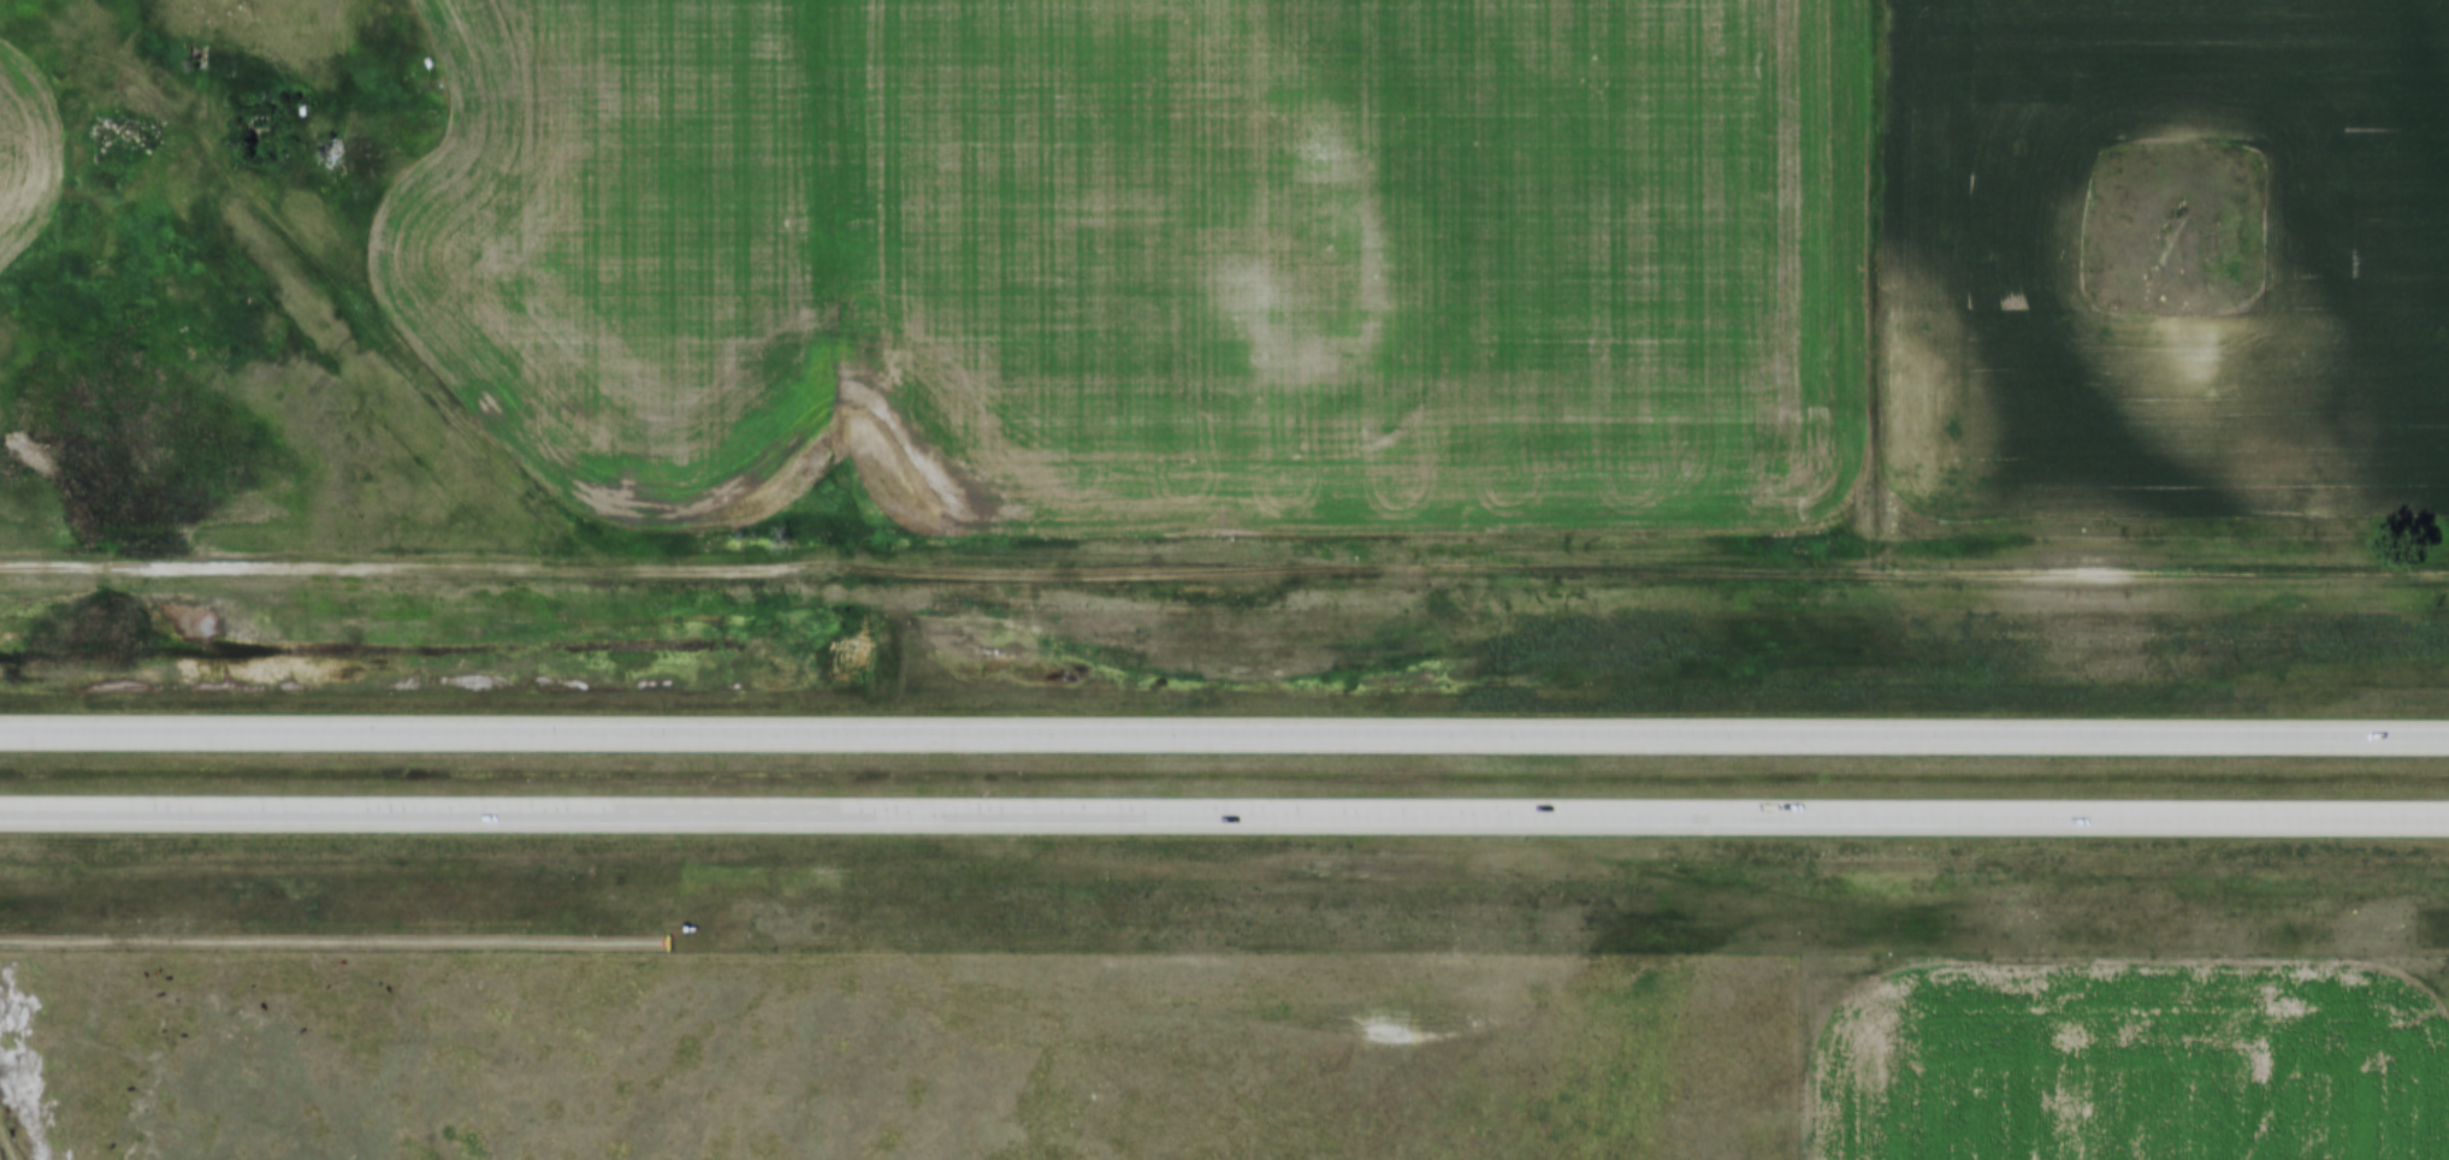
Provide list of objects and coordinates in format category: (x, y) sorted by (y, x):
road: (1224, 569)
road: (1224, 730)
road: (1224, 813)

